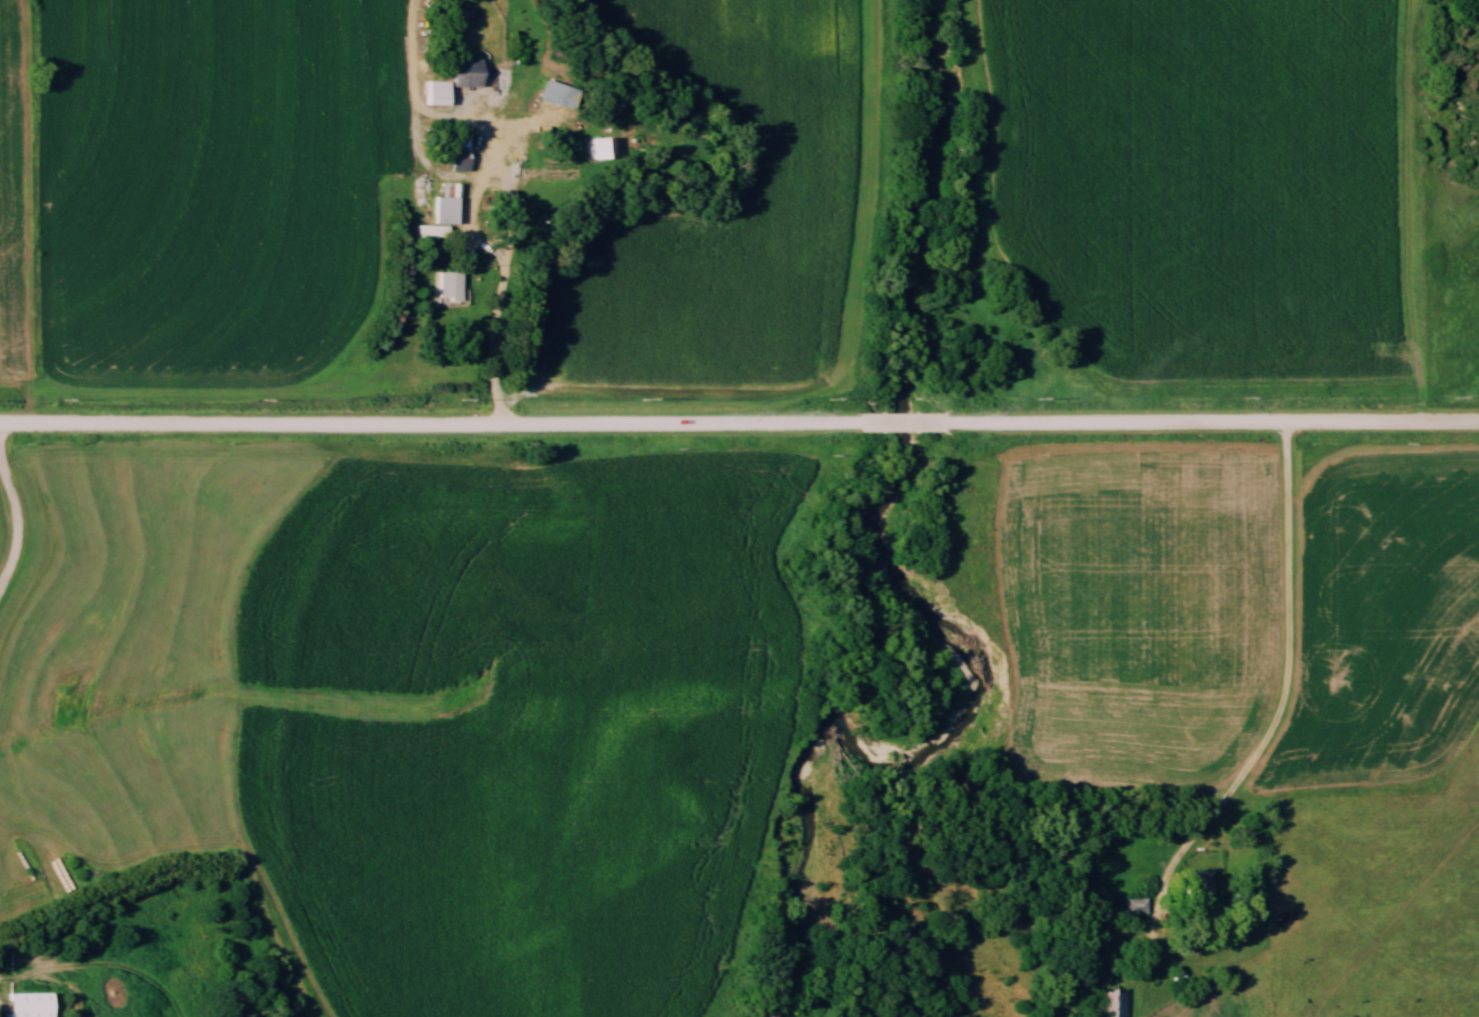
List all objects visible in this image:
building: (462, 70)
building: (555, 92)
building: (597, 144)
building: (456, 149)
building: (438, 212)
road: (505, 273)
building: (446, 284)
road: (1215, 419)
road: (427, 421)
road: (903, 421)
road: (17, 521)
road: (1288, 680)
building: (1193, 882)
building: (1133, 904)
building: (26, 1003)
building: (1111, 1003)

